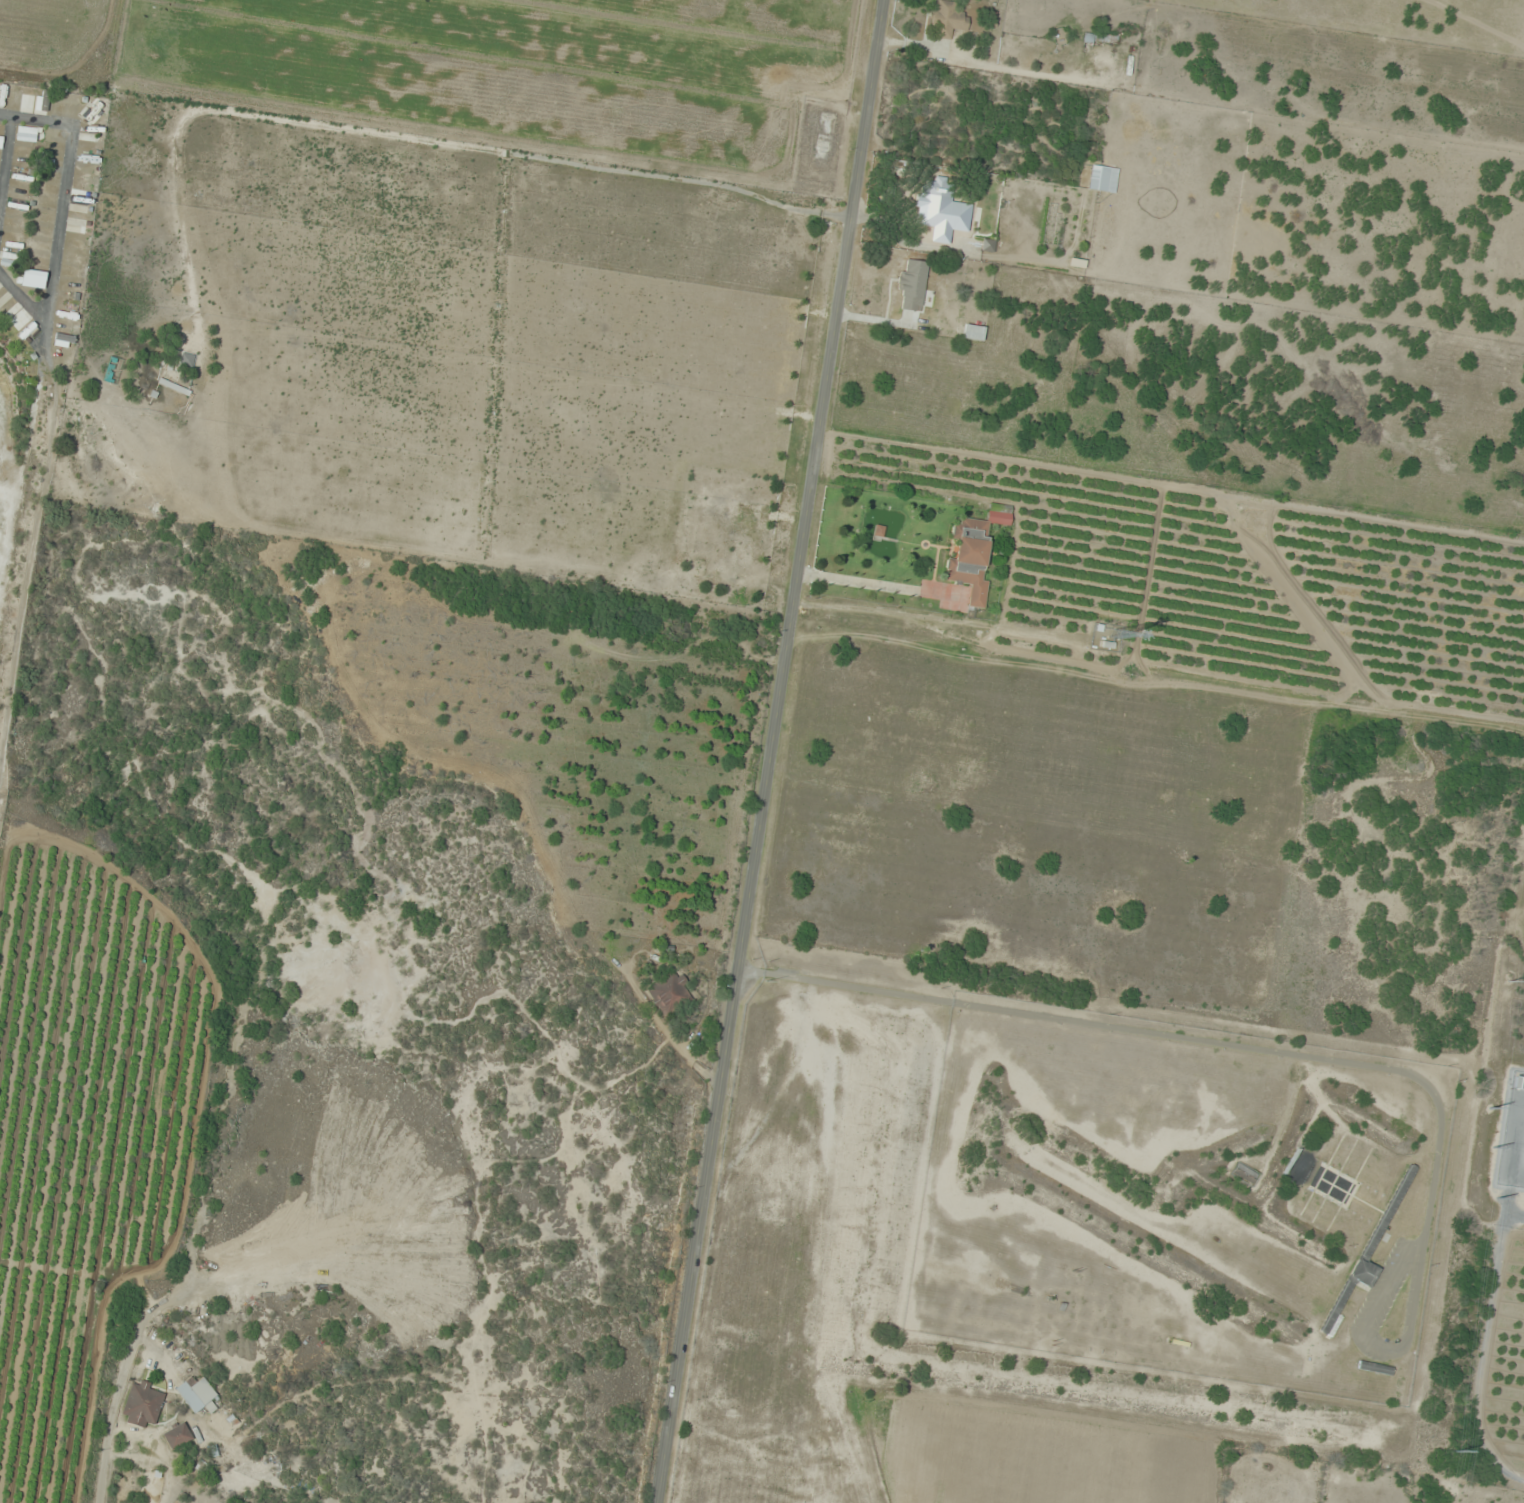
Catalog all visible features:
building: (948, 19)
building: (1098, 37)
building: (26, 98)
building: (43, 100)
road: (39, 122)
building: (27, 133)
building: (1099, 178)
road: (11, 198)
building: (942, 211)
road: (66, 230)
building: (912, 284)
road: (26, 301)
building: (187, 360)
road: (31, 539)
building: (969, 558)
road: (771, 751)
building: (669, 993)
power substation: (1513, 1135)
building: (1245, 1174)
building: (1348, 1291)
building: (1374, 1367)
building: (197, 1394)
building: (142, 1405)
building: (176, 1435)

